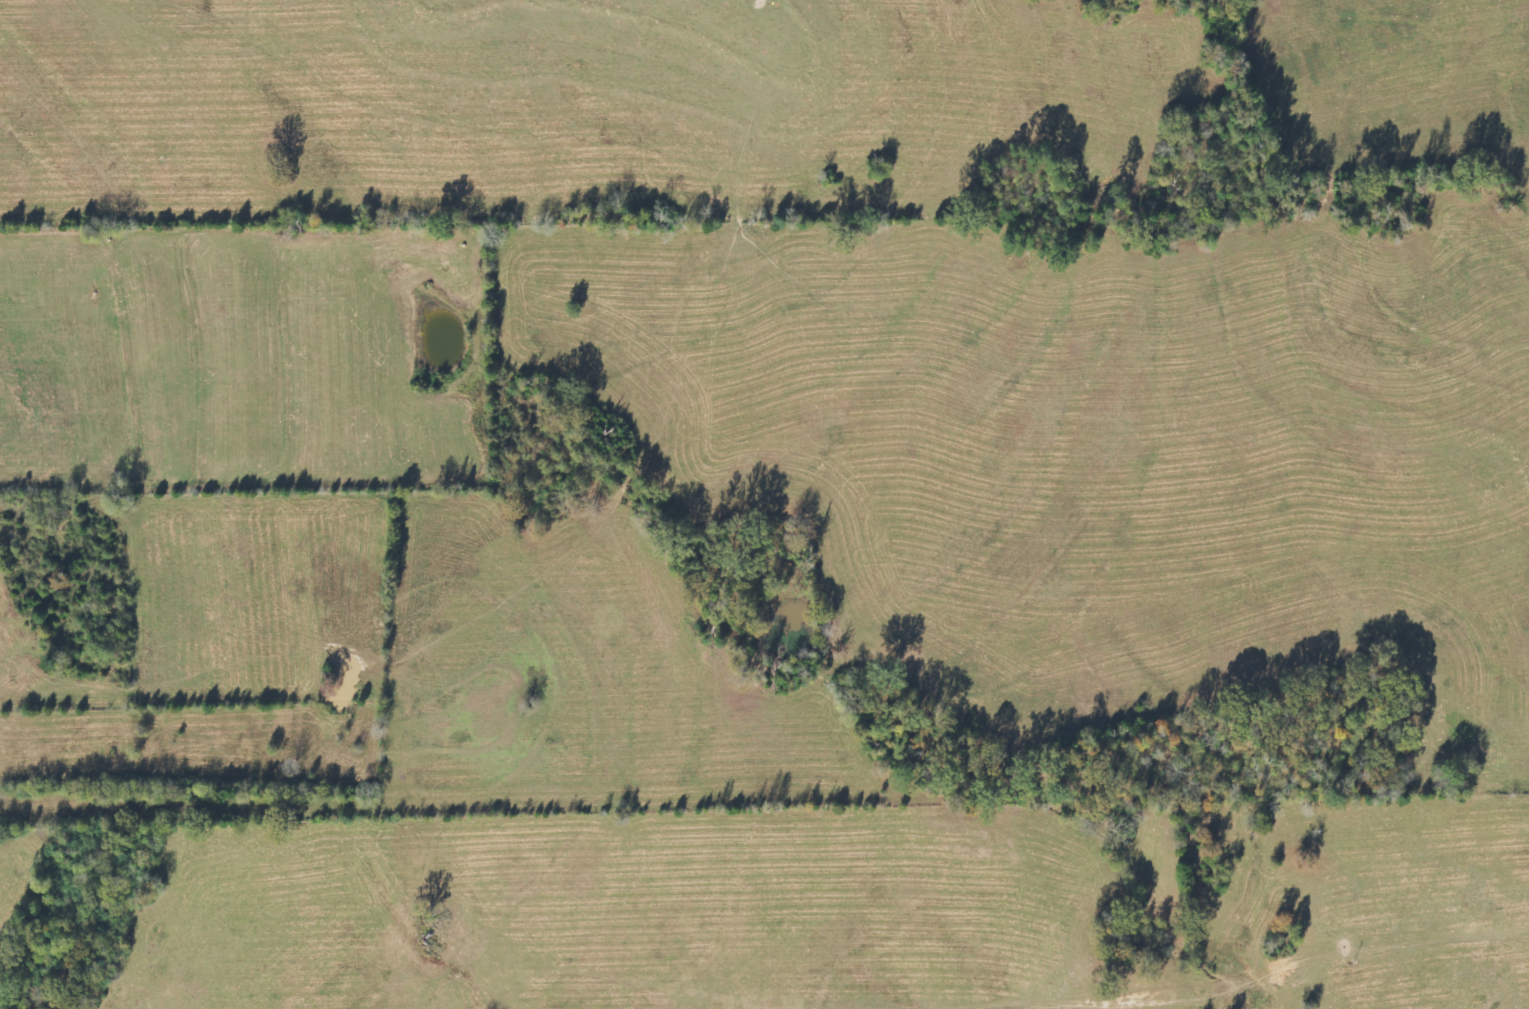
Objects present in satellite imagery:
road: (49, 448)

